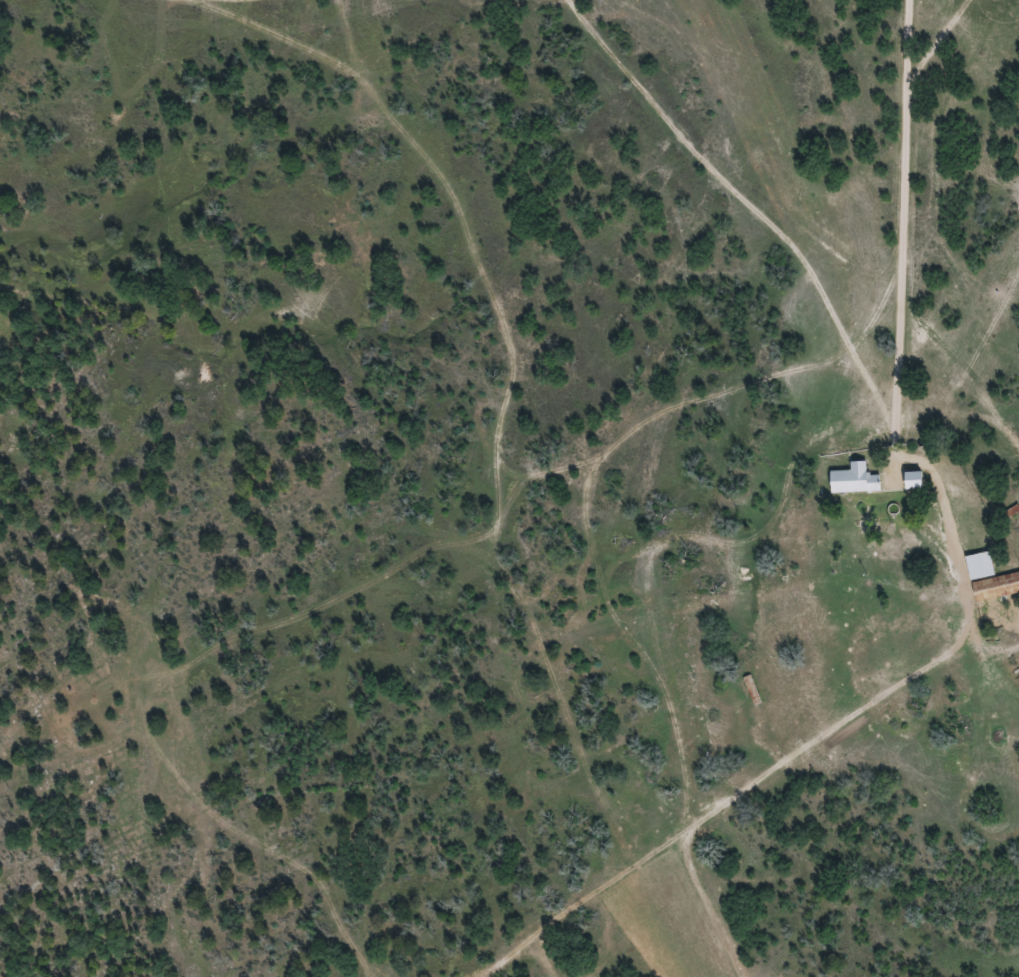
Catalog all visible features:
road: (897, 200)
road: (803, 372)
building: (851, 479)
building: (908, 479)

